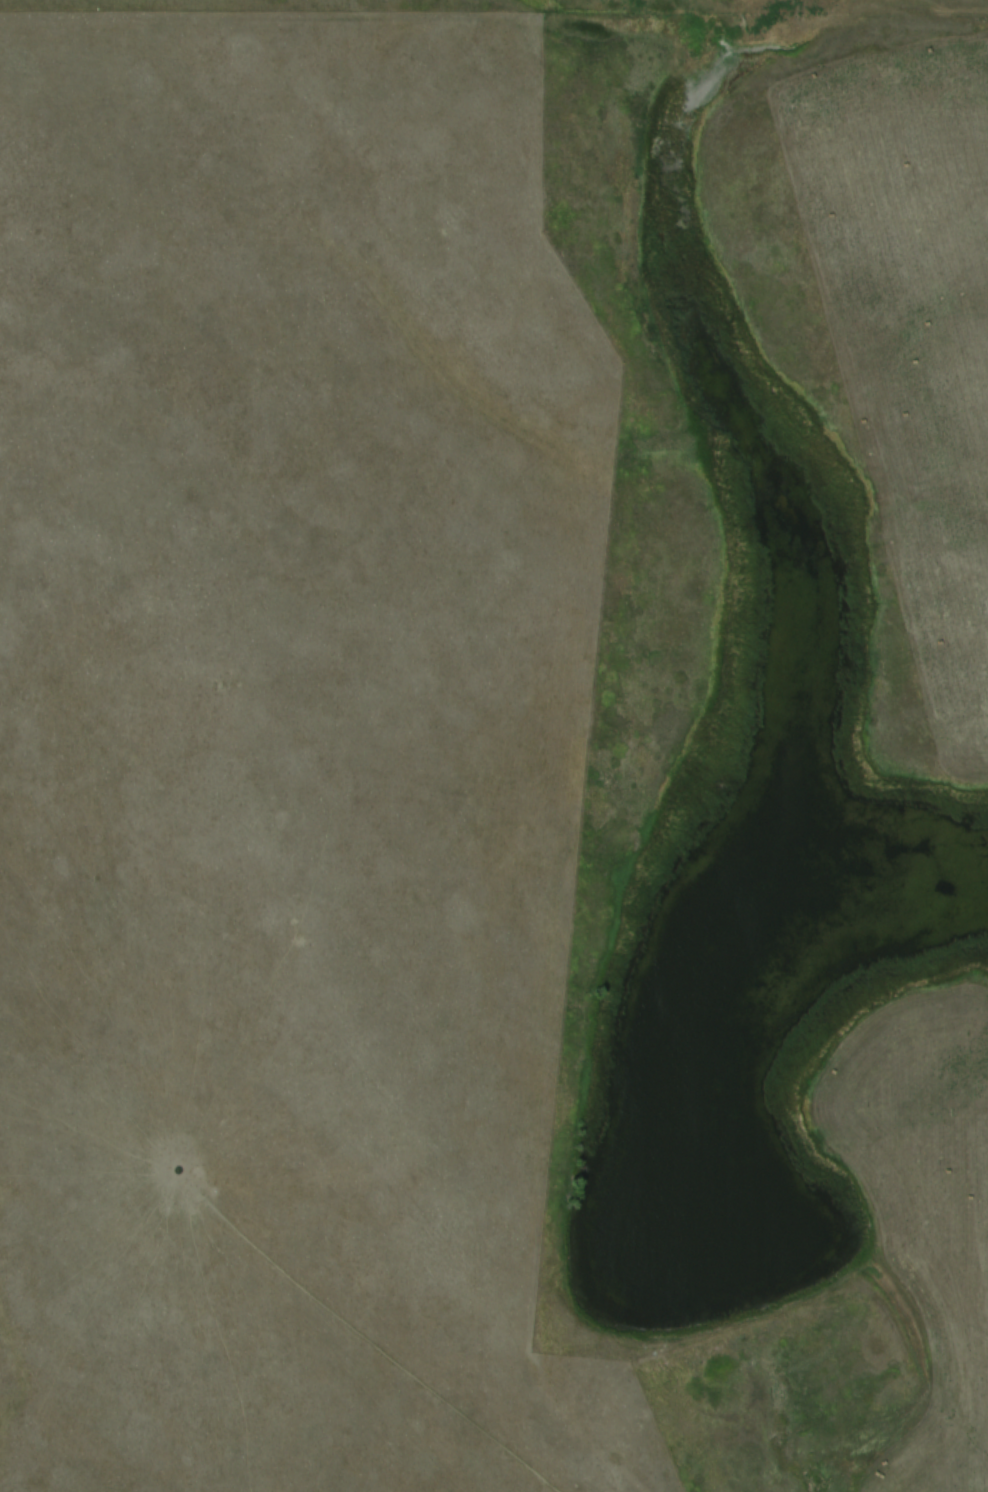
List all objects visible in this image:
dam: (740, 1314)

